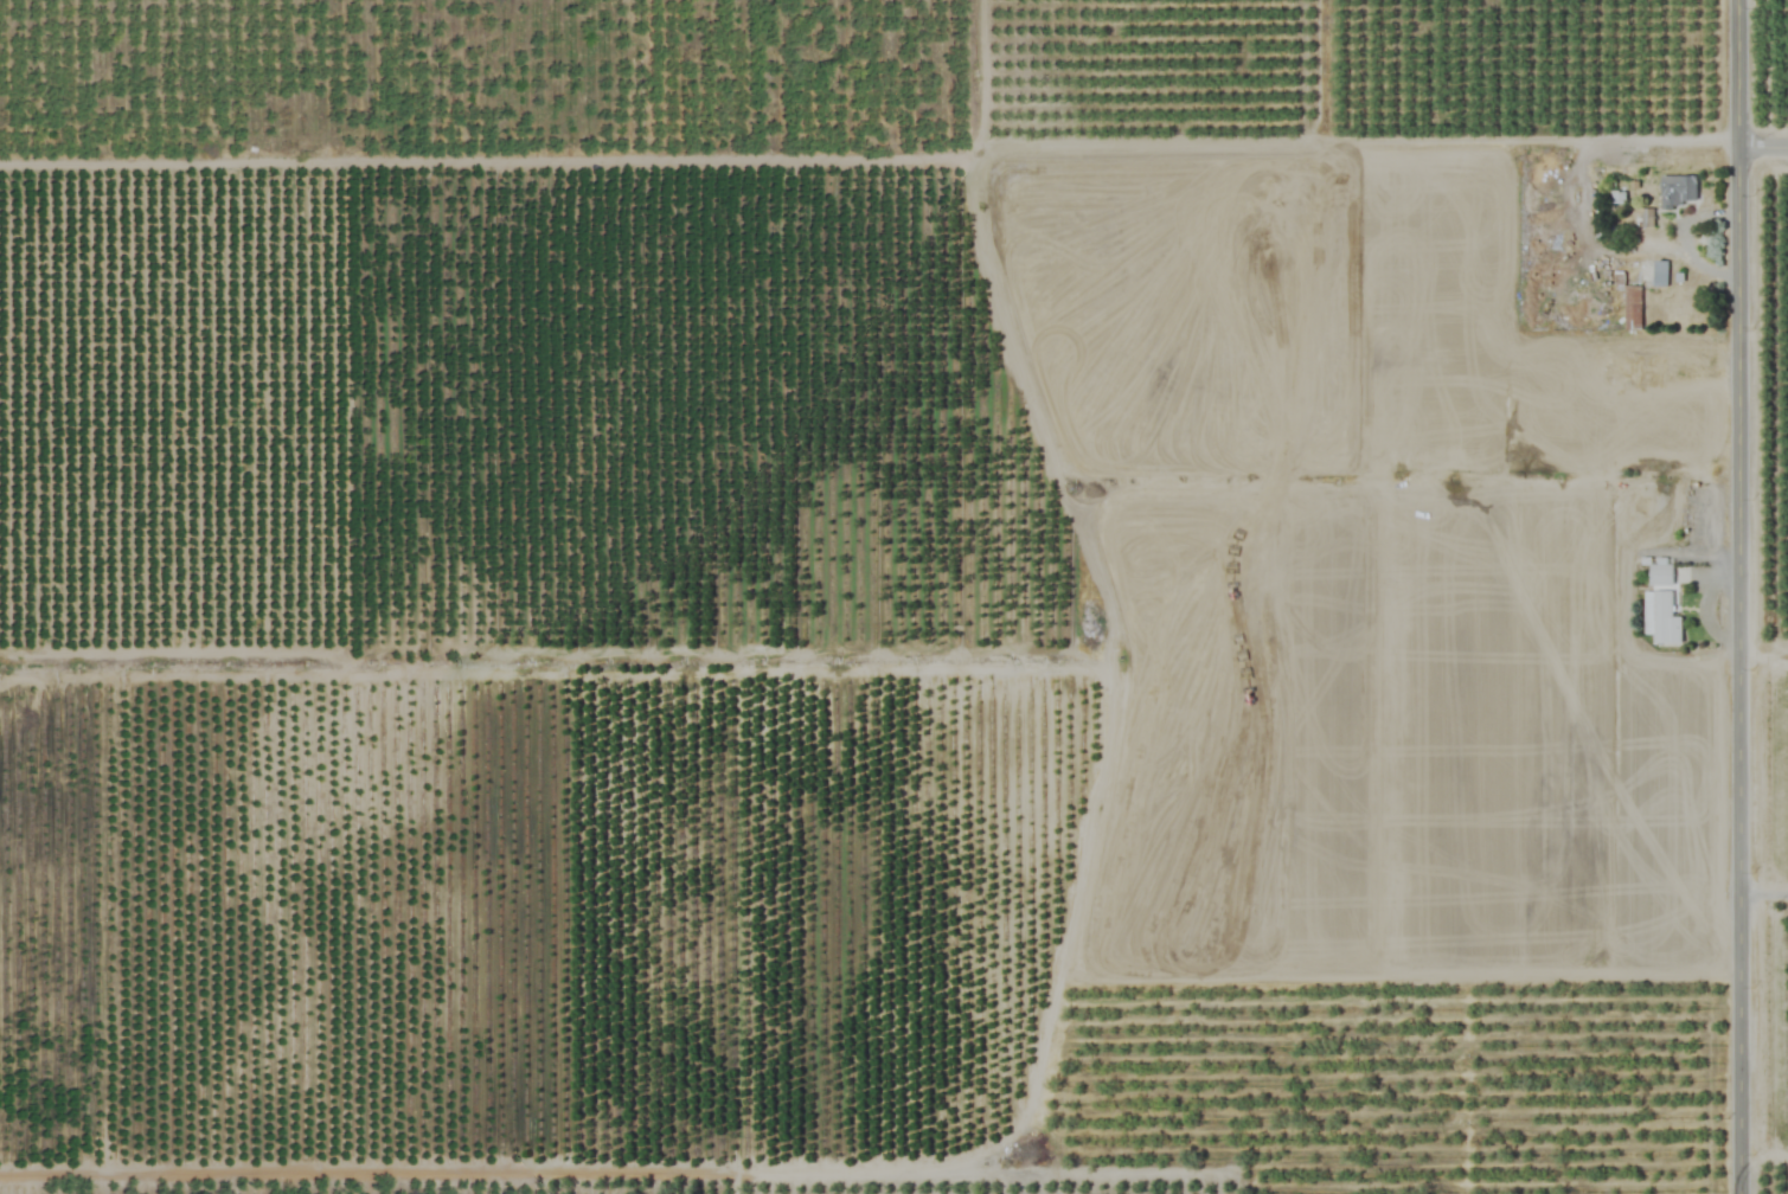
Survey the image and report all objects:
road: (1764, 154)
building: (1678, 190)
building: (1660, 274)
building: (1630, 295)
building: (1660, 573)
road: (1741, 596)
building: (1660, 617)
road: (1764, 659)
road: (1764, 892)
road: (1764, 1154)

